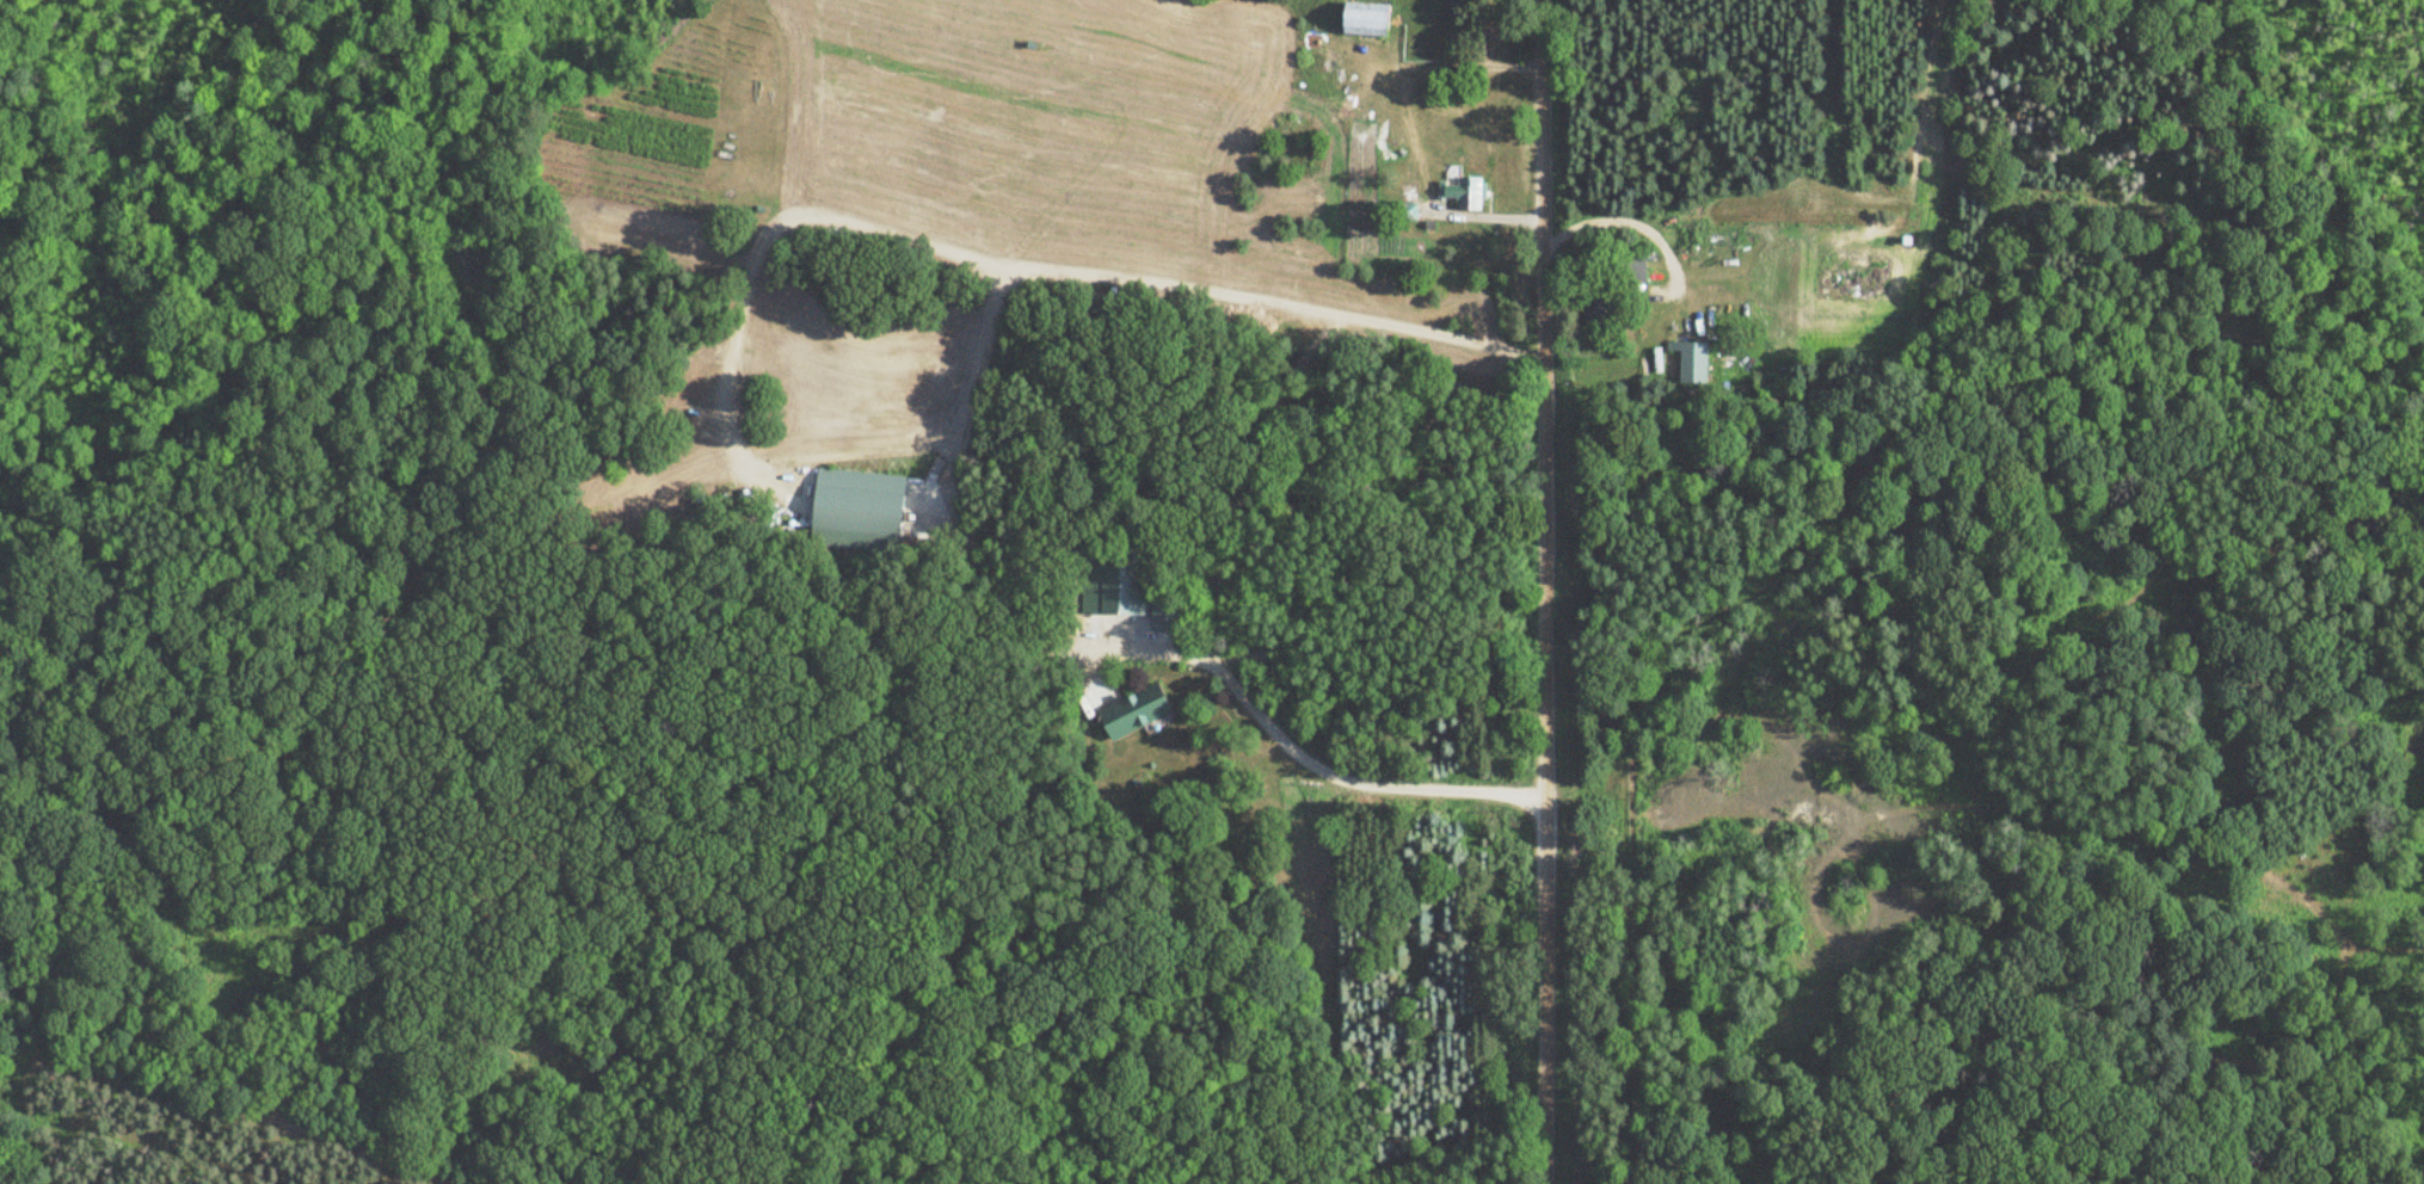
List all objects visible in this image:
building: (1371, 19)
building: (1463, 191)
road: (851, 224)
road: (1639, 229)
building: (1691, 360)
building: (860, 501)
road: (1551, 591)
building: (1163, 615)
building: (1137, 711)
road: (1327, 766)

